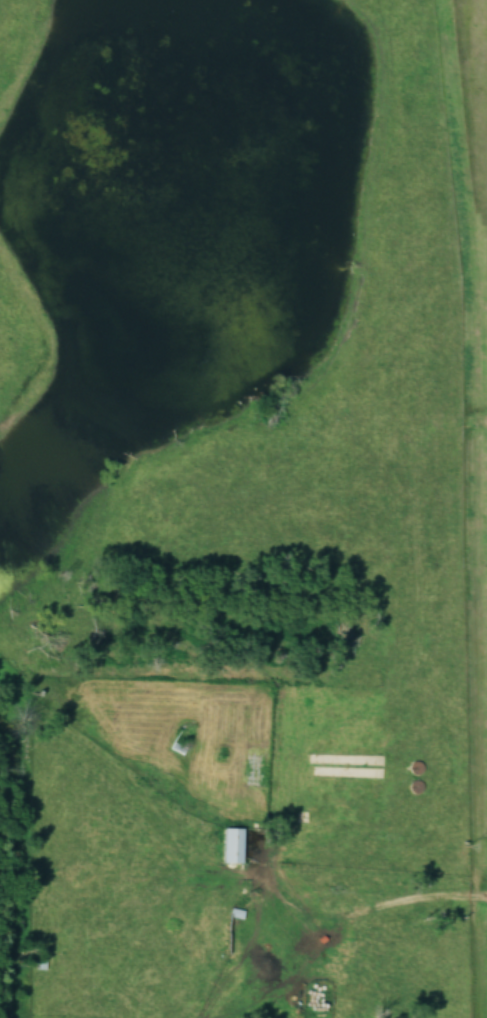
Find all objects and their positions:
building: (233, 845)
road: (401, 897)

